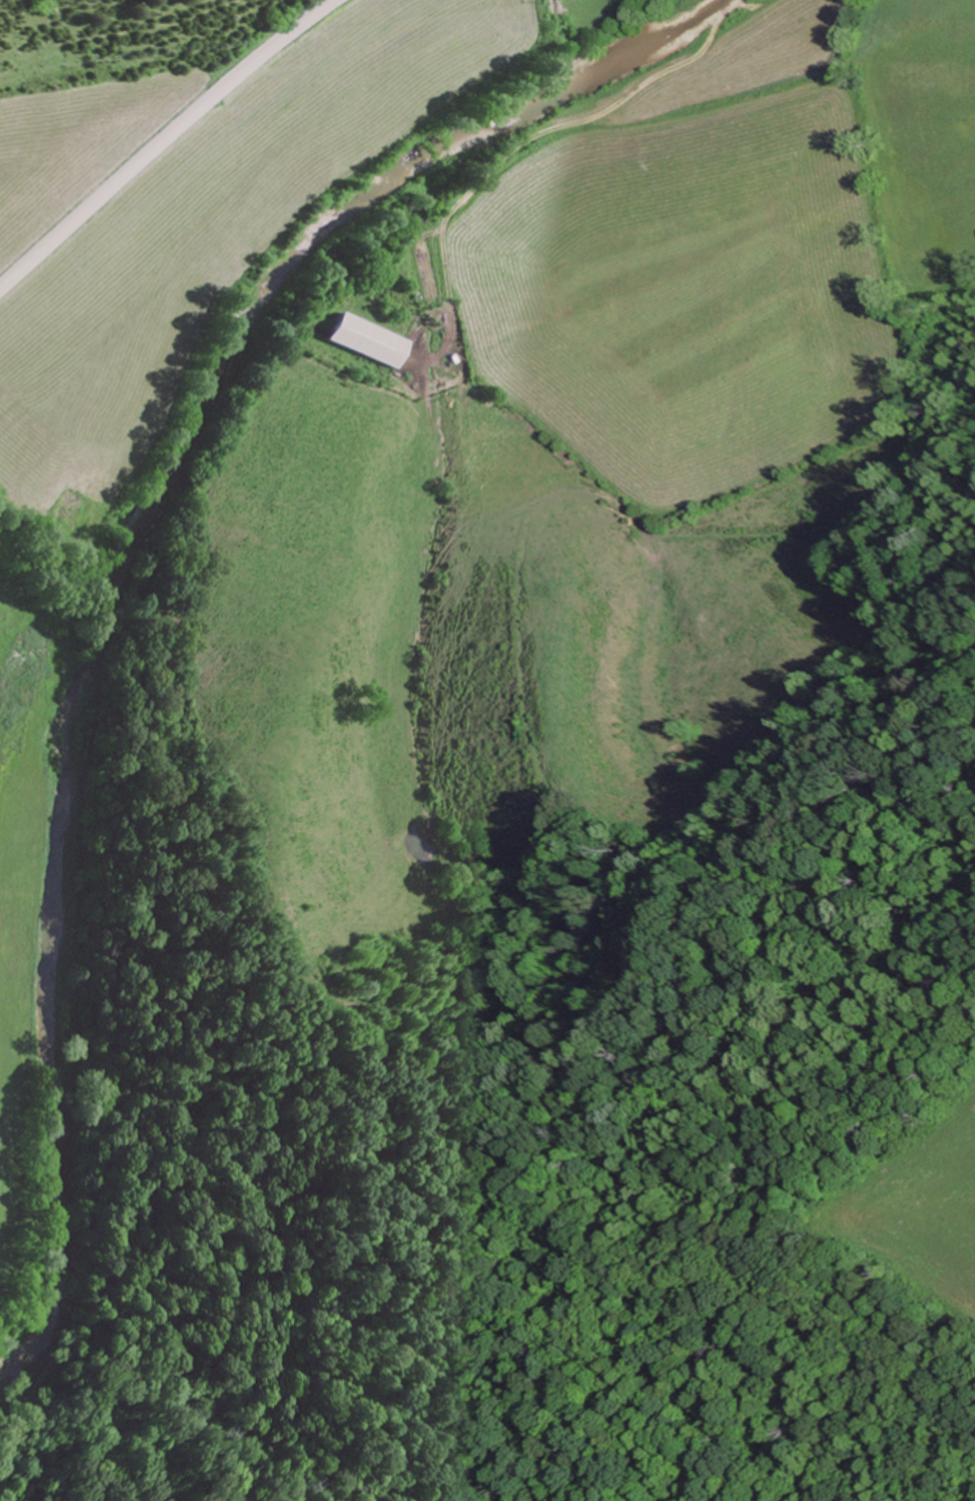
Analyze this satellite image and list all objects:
road: (165, 139)
building: (371, 340)

